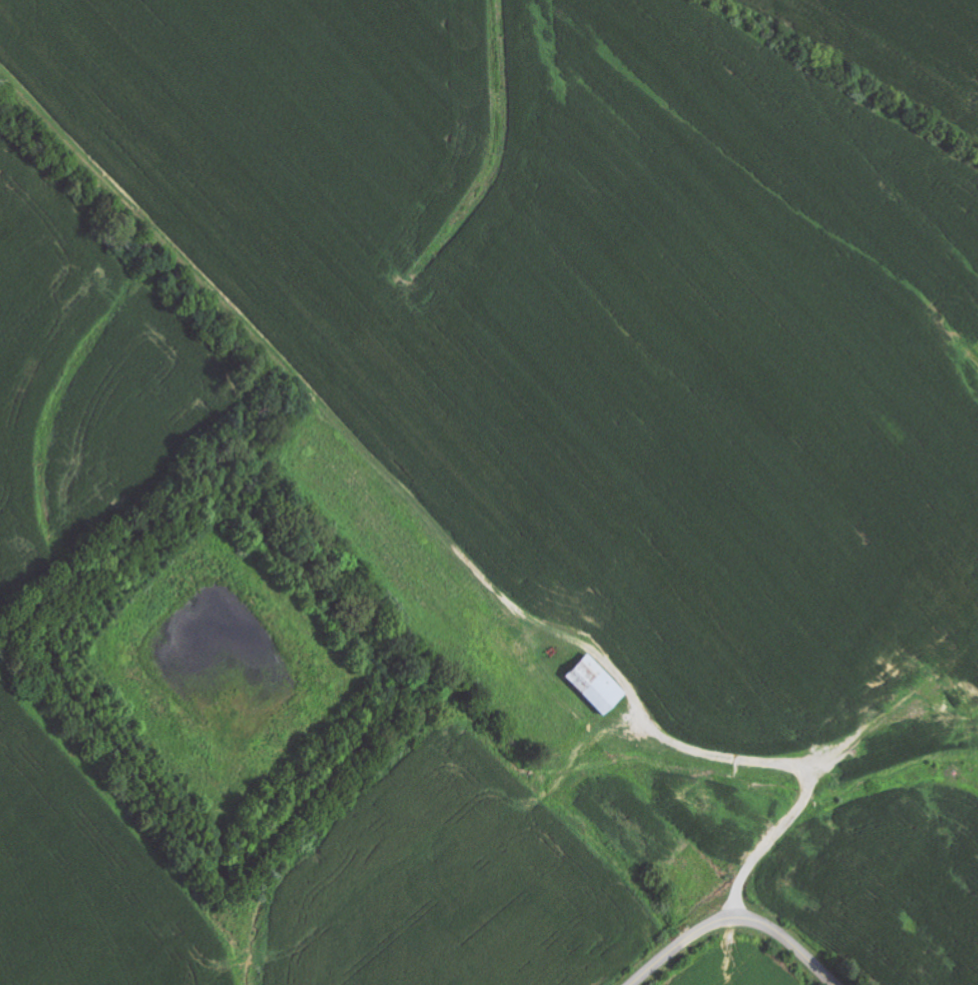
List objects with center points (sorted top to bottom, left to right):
building: (597, 684)
road: (737, 919)

